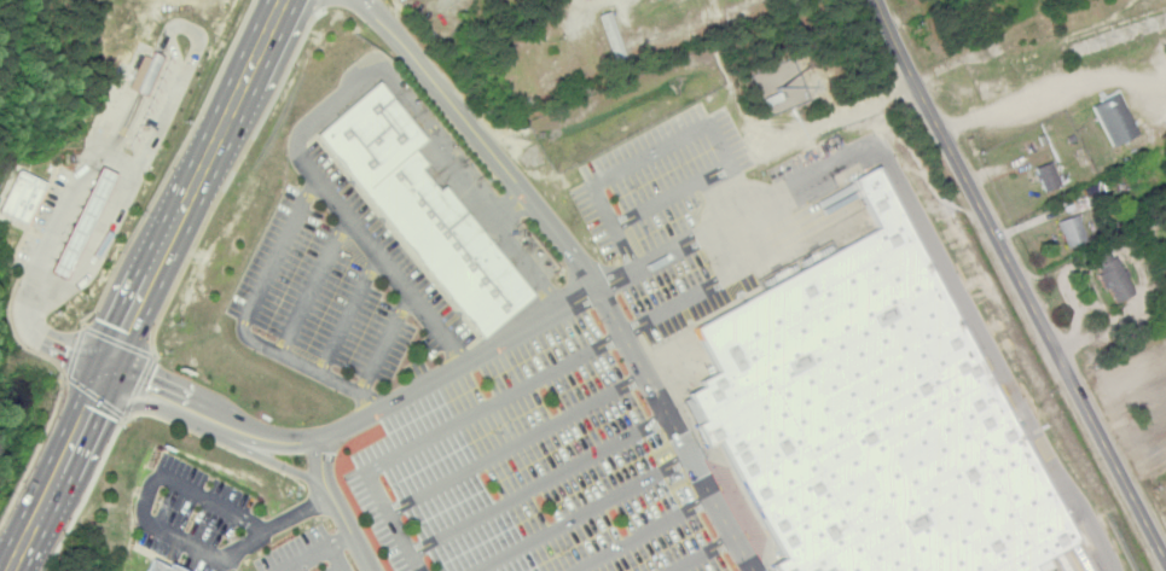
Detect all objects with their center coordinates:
road: (594, 1)
building: (611, 35)
building: (144, 72)
building: (1115, 118)
building: (1048, 175)
building: (19, 197)
building: (422, 210)
building: (80, 223)
building: (1072, 229)
road: (708, 234)
road: (586, 264)
building: (1113, 274)
road: (1019, 281)
road: (146, 285)
traffic signals: (106, 367)
building: (872, 415)
road: (341, 508)

